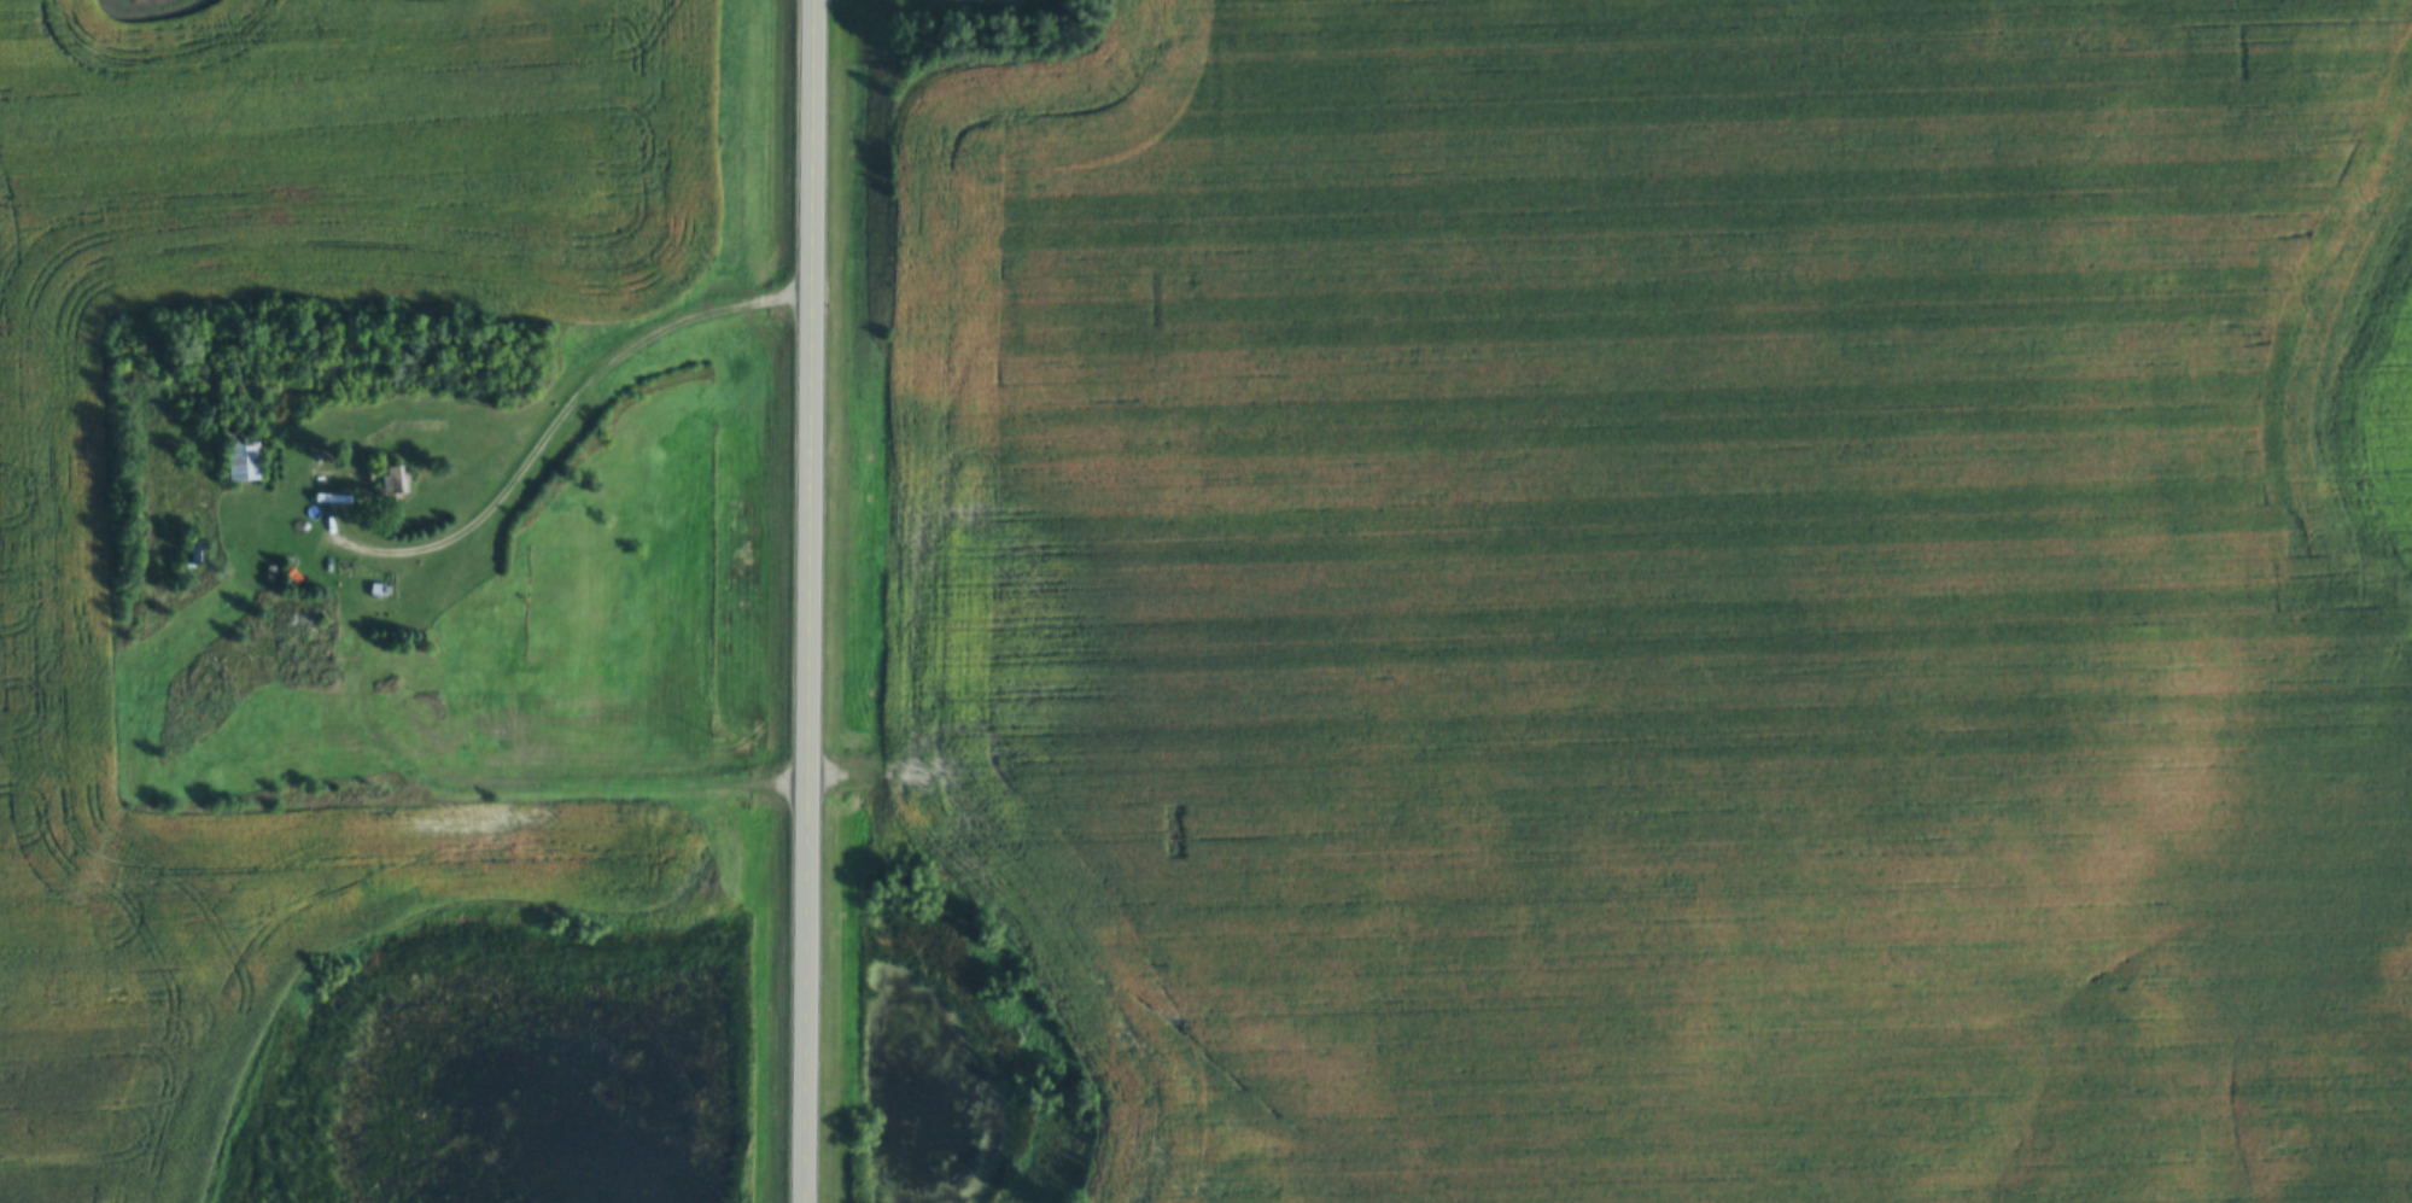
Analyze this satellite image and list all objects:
road: (554, 439)
building: (239, 457)
building: (389, 483)
road: (816, 601)
road: (350, 808)

